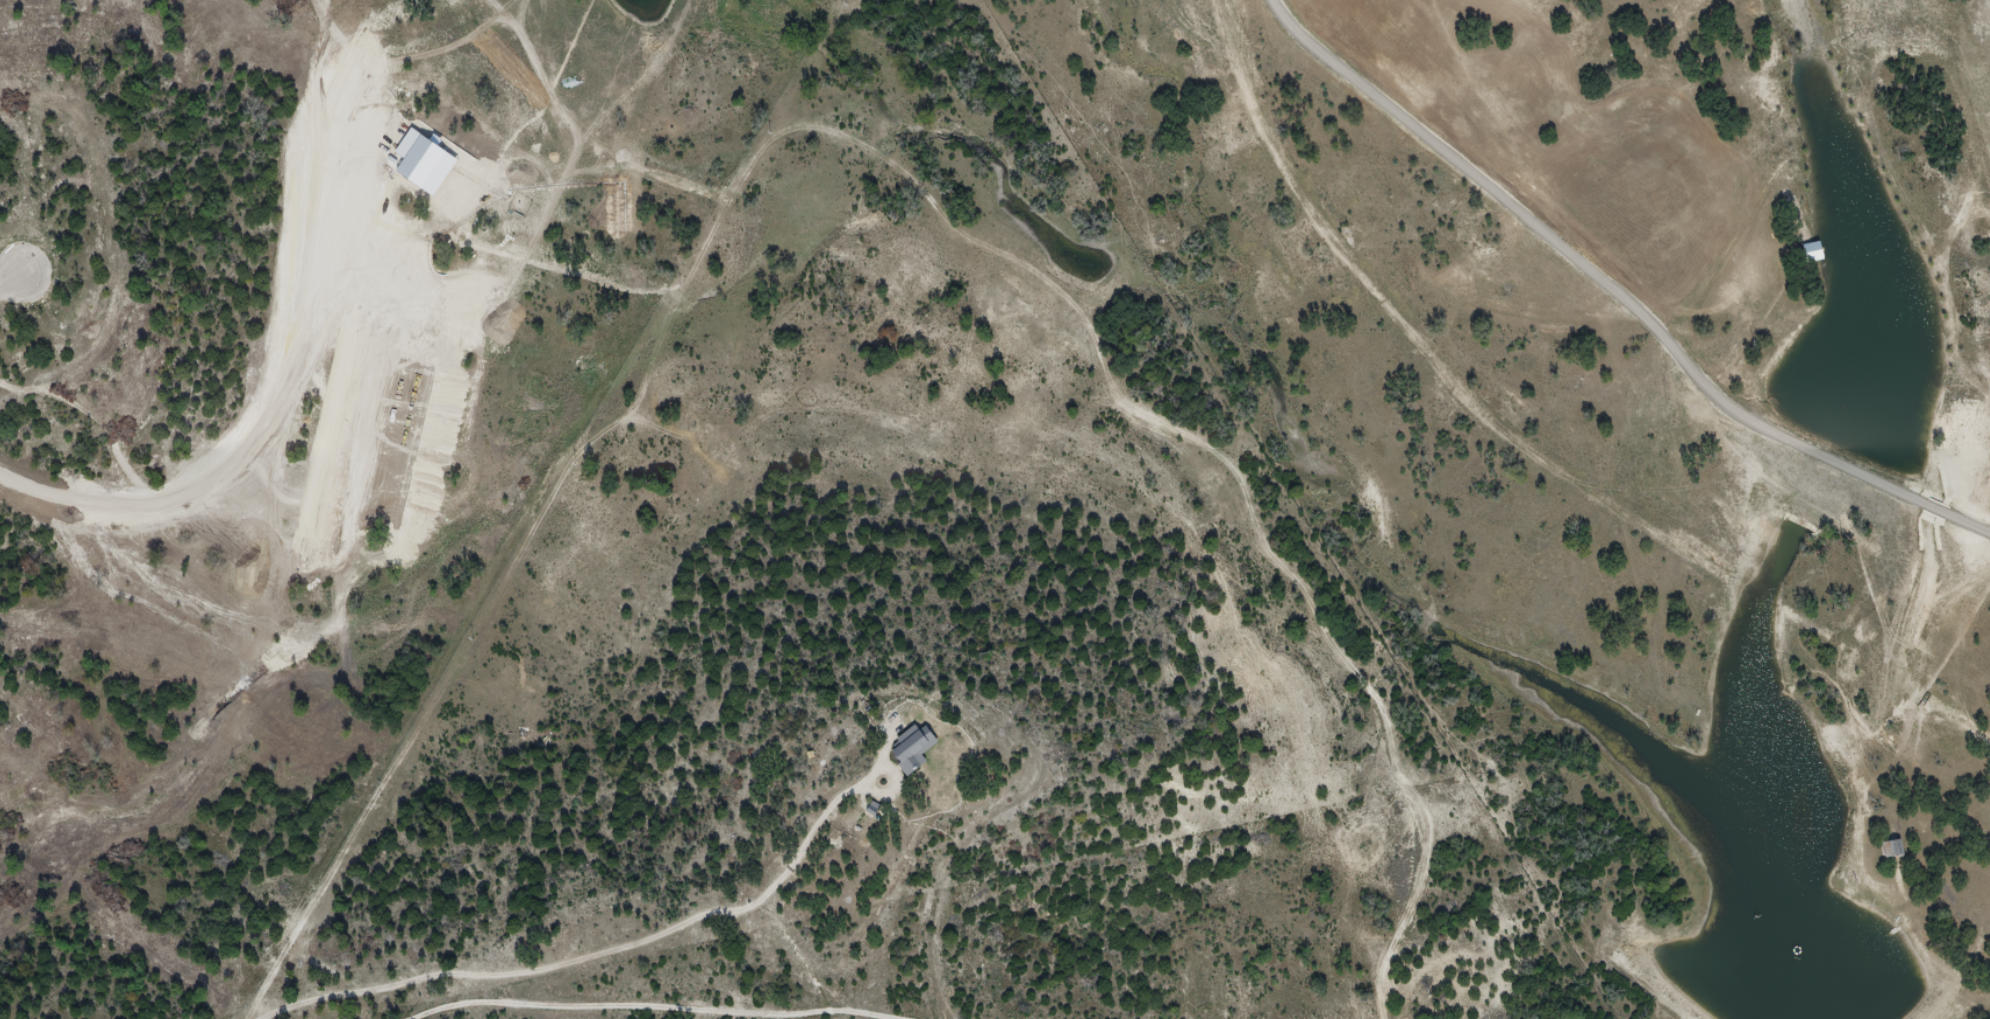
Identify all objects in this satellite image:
road: (12, 278)
road: (1065, 337)
road: (1526, 455)
road: (592, 955)
road: (658, 1005)

